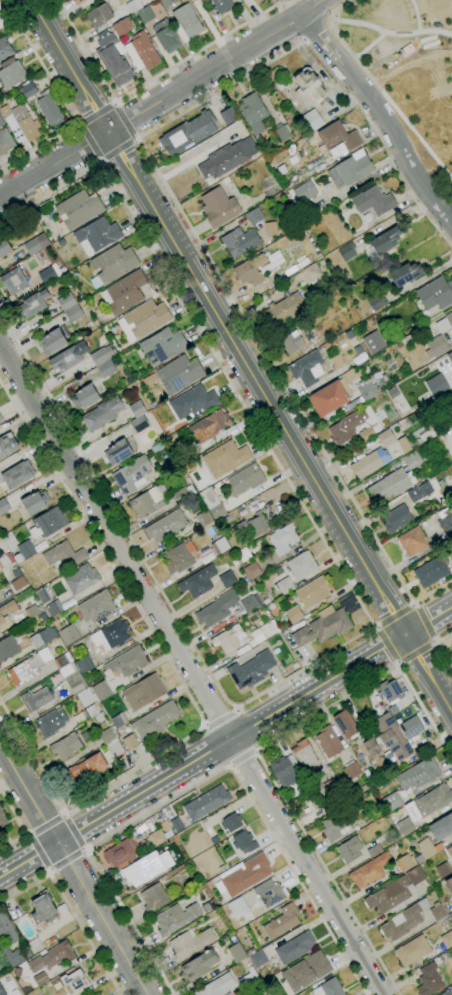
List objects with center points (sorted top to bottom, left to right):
building: (205, 1)
building: (256, 1)
building: (78, 2)
building: (167, 3)
road: (285, 3)
building: (133, 5)
building: (221, 5)
road: (310, 6)
building: (99, 15)
building: (145, 15)
building: (0, 19)
road: (326, 21)
building: (186, 23)
building: (122, 27)
road: (211, 29)
road: (310, 32)
building: (166, 36)
road: (303, 39)
building: (4, 48)
building: (141, 51)
building: (112, 60)
road: (70, 65)
park: (410, 70)
road: (206, 73)
building: (12, 74)
road: (153, 78)
building: (279, 85)
building: (308, 87)
road: (379, 89)
building: (28, 90)
road: (61, 101)
building: (48, 108)
road: (95, 113)
building: (253, 113)
building: (228, 115)
road: (383, 115)
road: (127, 120)
building: (312, 120)
building: (22, 121)
building: (281, 131)
building: (187, 133)
building: (337, 137)
building: (5, 141)
road: (87, 145)
road: (119, 152)
building: (226, 159)
road: (54, 163)
building: (349, 171)
building: (225, 180)
building: (304, 191)
road: (172, 198)
building: (373, 201)
building: (218, 207)
building: (78, 210)
building: (308, 211)
building: (254, 216)
building: (271, 228)
building: (97, 235)
building: (239, 241)
building: (385, 241)
building: (36, 244)
building: (4, 247)
building: (346, 251)
building: (113, 263)
building: (250, 270)
building: (311, 271)
building: (49, 274)
building: (405, 274)
building: (13, 281)
building: (124, 292)
building: (435, 294)
building: (377, 302)
building: (32, 305)
building: (69, 307)
building: (282, 310)
building: (147, 319)
building: (444, 323)
building: (349, 335)
building: (53, 341)
building: (292, 342)
building: (373, 342)
building: (163, 345)
building: (436, 347)
building: (101, 355)
building: (68, 357)
building: (450, 357)
building: (310, 367)
building: (179, 374)
building: (350, 375)
road: (258, 382)
building: (436, 385)
building: (366, 389)
building: (393, 392)
building: (85, 397)
building: (328, 398)
building: (193, 403)
building: (137, 409)
building: (102, 413)
building: (1, 419)
building: (138, 423)
building: (209, 426)
building: (346, 426)
building: (375, 428)
building: (366, 433)
building: (386, 438)
building: (7, 444)
building: (404, 445)
building: (118, 452)
building: (225, 459)
building: (413, 460)
building: (370, 462)
building: (172, 463)
building: (17, 474)
building: (131, 475)
building: (244, 479)
building: (391, 485)
building: (419, 492)
building: (183, 494)
building: (149, 501)
building: (9, 502)
building: (35, 502)
building: (212, 503)
building: (204, 517)
building: (396, 518)
building: (445, 522)
building: (47, 523)
building: (253, 525)
building: (166, 526)
building: (283, 539)
building: (9, 540)
building: (413, 541)
building: (2, 546)
building: (220, 546)
building: (26, 549)
building: (63, 556)
building: (18, 559)
building: (177, 559)
building: (3, 561)
building: (235, 563)
building: (301, 565)
building: (252, 571)
building: (430, 572)
building: (16, 573)
building: (226, 578)
building: (81, 579)
building: (198, 581)
building: (18, 584)
building: (285, 585)
building: (312, 592)
building: (42, 596)
building: (265, 601)
building: (250, 603)
building: (96, 607)
building: (54, 608)
building: (217, 608)
building: (33, 611)
building: (6, 613)
road: (364, 613)
road: (392, 614)
building: (294, 615)
road: (423, 622)
road: (429, 622)
building: (323, 626)
building: (268, 630)
building: (68, 634)
building: (111, 635)
building: (42, 637)
building: (229, 639)
road: (384, 646)
building: (7, 647)
road: (437, 649)
road: (414, 653)
building: (63, 660)
building: (126, 662)
building: (84, 664)
building: (28, 666)
road: (191, 670)
building: (252, 670)
road: (429, 673)
road: (179, 678)
building: (75, 682)
building: (392, 690)
building: (100, 691)
building: (144, 692)
building: (86, 697)
building: (36, 699)
building: (92, 710)
building: (393, 710)
road: (217, 716)
building: (398, 716)
building: (118, 720)
building: (155, 721)
building: (51, 722)
building: (345, 724)
building: (410, 726)
road: (243, 730)
building: (85, 736)
building: (392, 737)
building: (111, 741)
building: (328, 741)
building: (130, 742)
building: (65, 746)
road: (215, 746)
building: (371, 747)
road: (255, 754)
road: (203, 756)
road: (242, 760)
building: (312, 768)
building: (86, 769)
building: (352, 769)
building: (283, 772)
building: (418, 774)
road: (197, 781)
building: (364, 787)
building: (305, 788)
building: (358, 791)
building: (392, 801)
building: (432, 801)
building: (206, 802)
building: (314, 802)
building: (2, 819)
building: (231, 822)
road: (44, 824)
building: (166, 824)
building: (176, 824)
building: (337, 824)
road: (20, 826)
building: (404, 826)
building: (442, 827)
road: (73, 832)
building: (158, 837)
building: (244, 842)
building: (412, 842)
building: (426, 849)
building: (349, 850)
building: (374, 850)
building: (122, 852)
building: (449, 852)
road: (36, 853)
road: (66, 861)
building: (404, 862)
building: (146, 868)
building: (443, 870)
road: (73, 871)
building: (369, 871)
building: (245, 874)
building: (449, 884)
building: (395, 892)
building: (272, 895)
building: (153, 897)
building: (206, 906)
building: (237, 906)
road: (69, 908)
building: (43, 910)
building: (62, 910)
building: (437, 912)
building: (450, 916)
building: (176, 918)
building: (403, 921)
building: (282, 922)
building: (7, 930)
building: (447, 940)
building: (190, 943)
building: (34, 945)
building: (294, 948)
building: (412, 950)
building: (250, 952)
building: (236, 953)
building: (27, 954)
building: (10, 956)
building: (51, 957)
building: (257, 958)
building: (199, 965)
building: (306, 971)
building: (40, 979)
building: (73, 980)
building: (248, 980)
building: (428, 980)
building: (217, 986)
building: (328, 988)
building: (2, 991)
building: (447, 992)
building: (99, 994)
building: (266, 994)
building: (268, 994)

